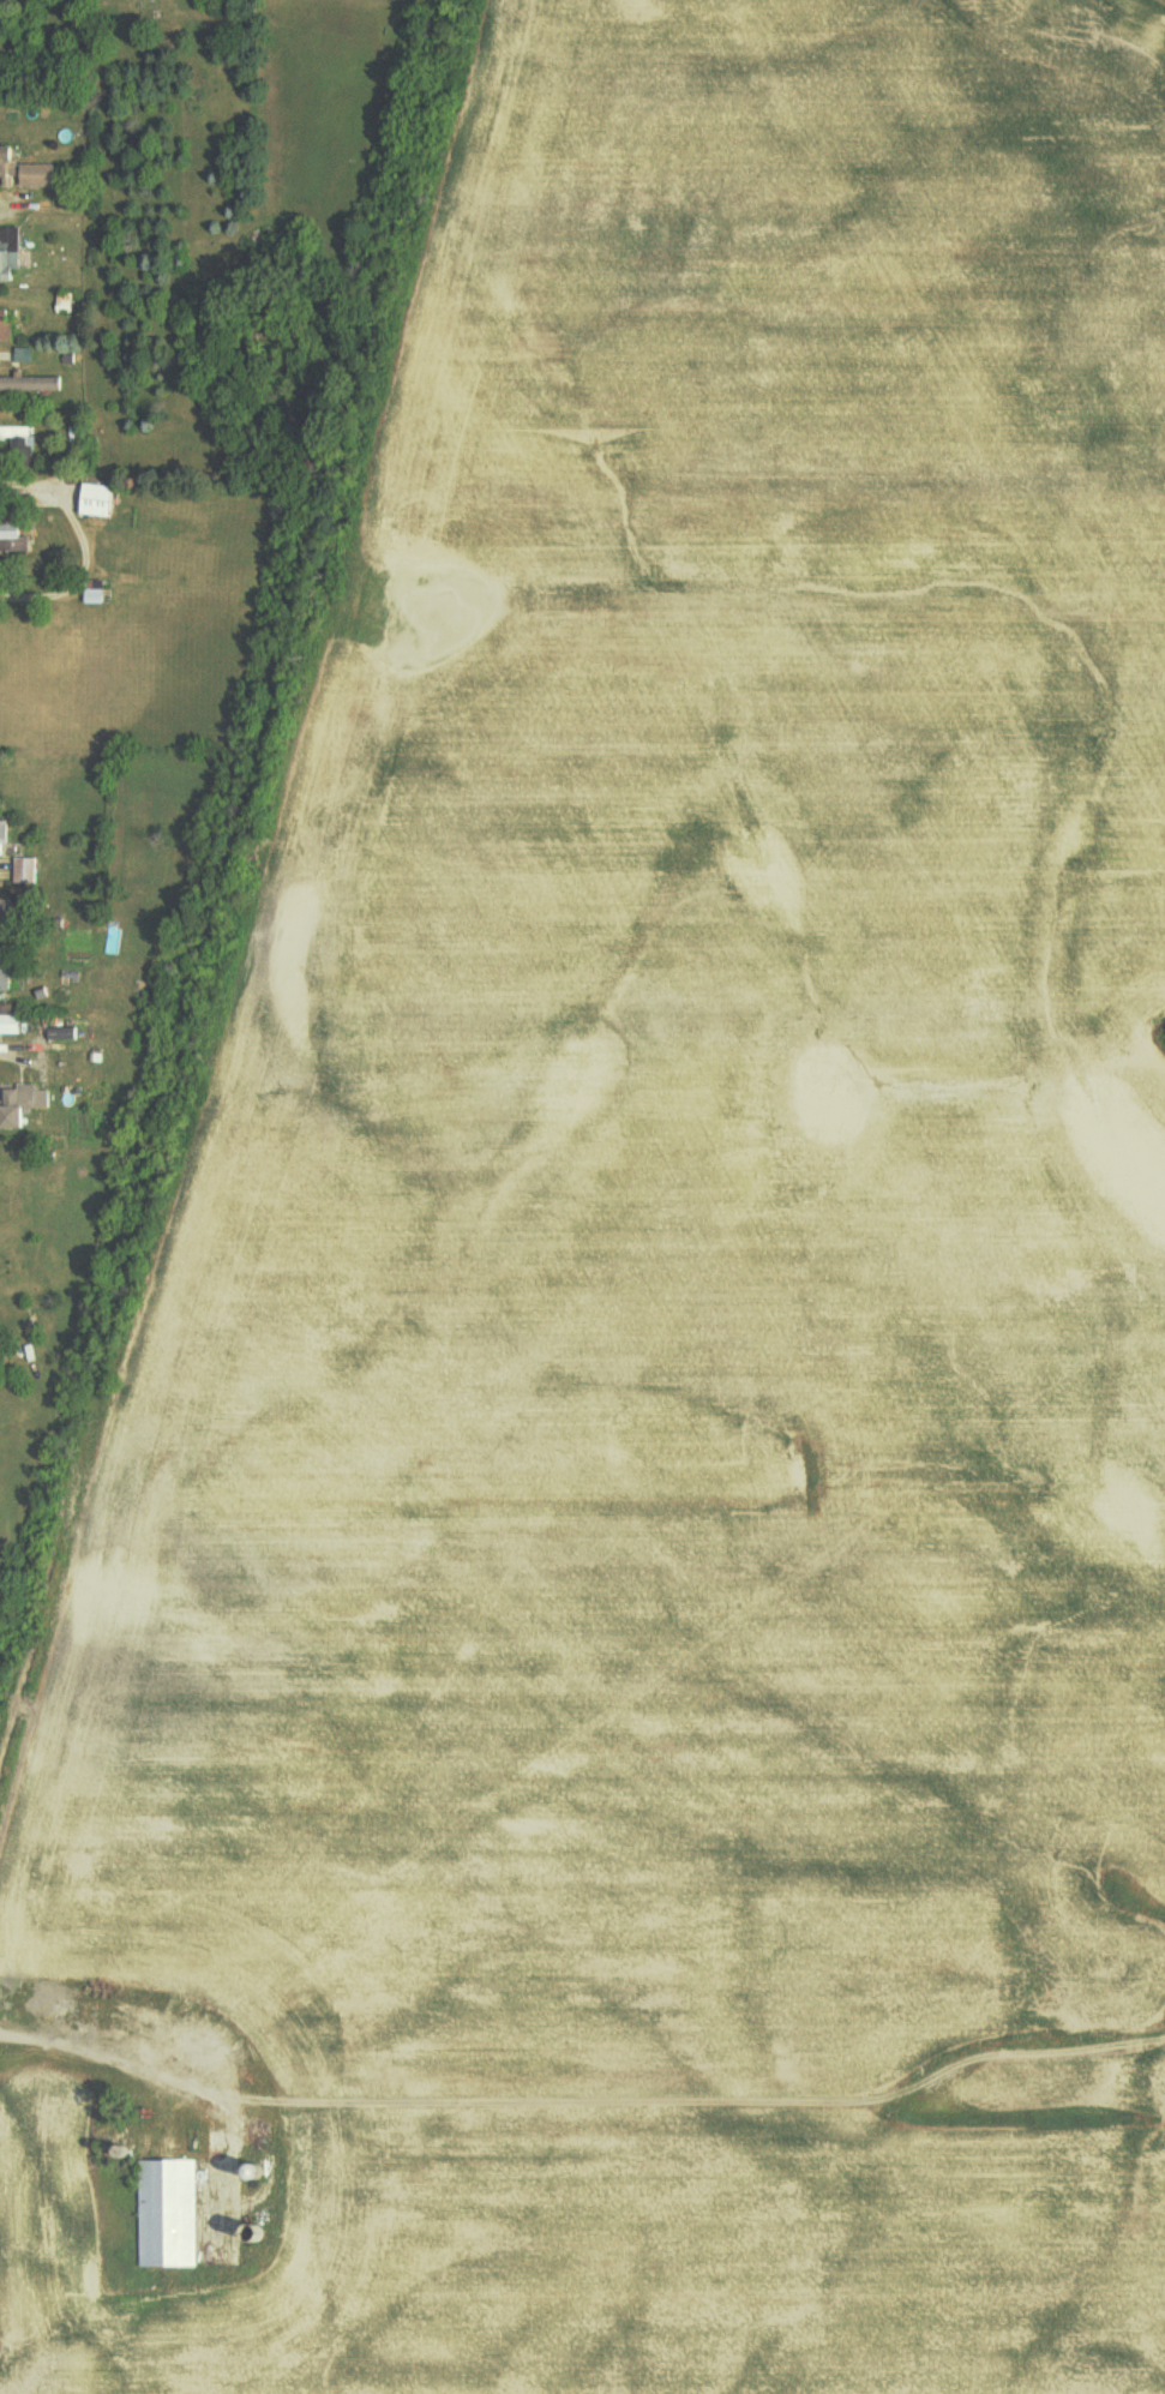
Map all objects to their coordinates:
building: (25, 169)
building: (10, 254)
building: (6, 324)
building: (23, 354)
building: (30, 383)
building: (17, 432)
building: (100, 500)
building: (12, 533)
building: (5, 918)
building: (5, 972)
building: (11, 1022)
building: (62, 1033)
building: (20, 1105)
crop: (693, 1278)
building: (169, 2213)

